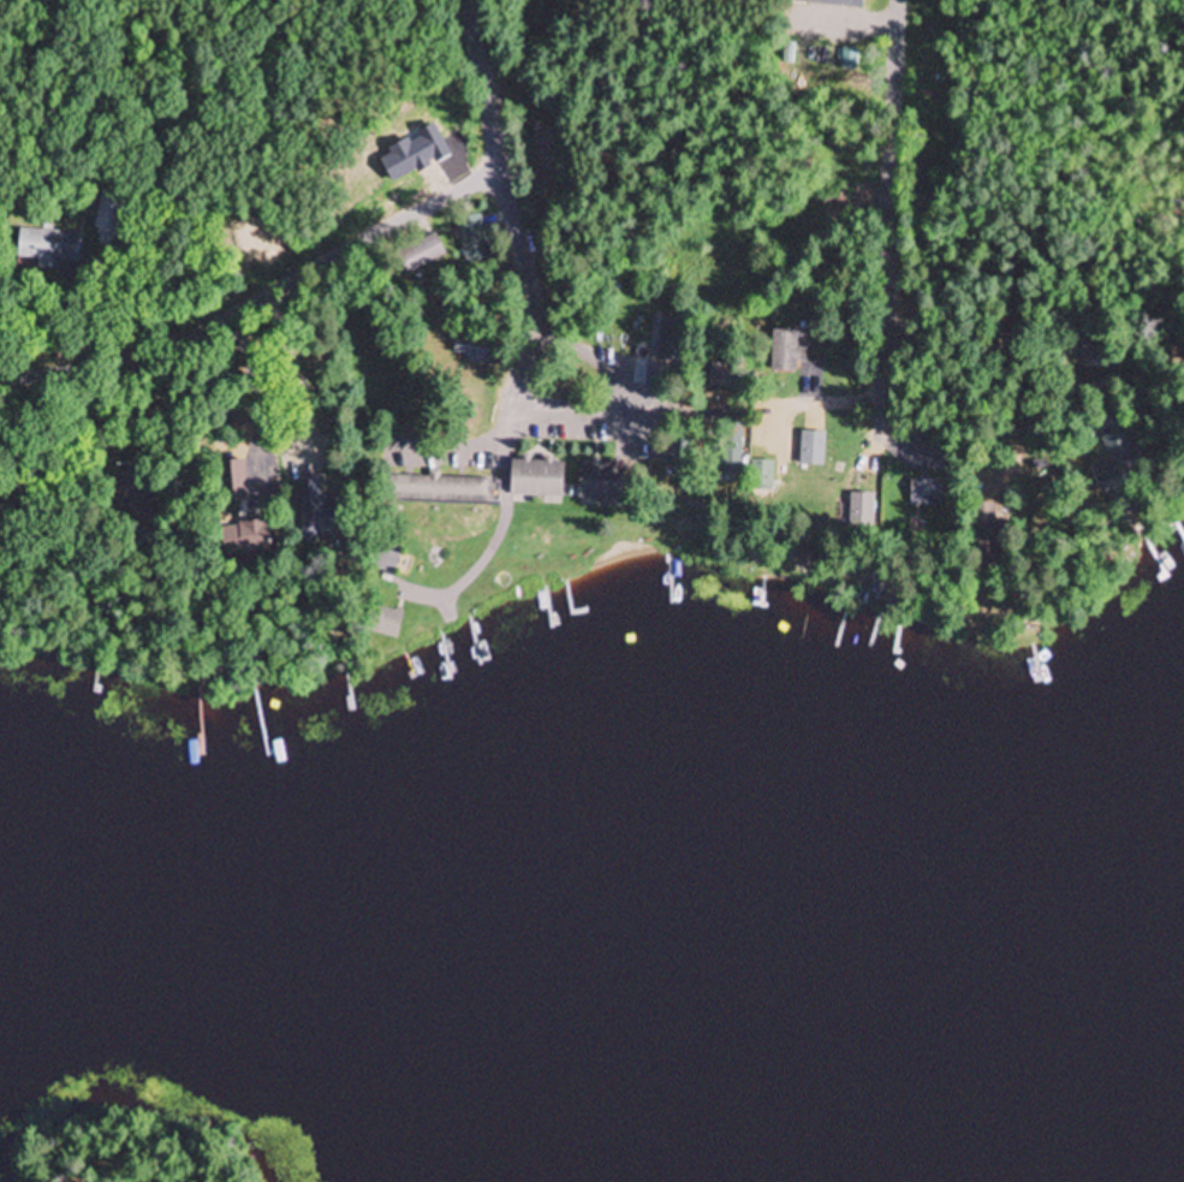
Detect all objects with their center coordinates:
building: (834, 2)
road: (481, 81)
road: (890, 150)
building: (109, 215)
building: (474, 233)
building: (49, 249)
building: (427, 250)
road: (262, 303)
road: (862, 307)
building: (670, 344)
building: (1094, 349)
building: (471, 351)
building: (785, 352)
building: (721, 376)
road: (647, 427)
building: (732, 450)
building: (811, 451)
building: (1120, 453)
road: (976, 465)
building: (537, 477)
building: (762, 477)
building: (231, 481)
building: (601, 481)
building: (436, 489)
building: (130, 491)
building: (926, 494)
building: (315, 510)
building: (246, 536)
building: (387, 623)

